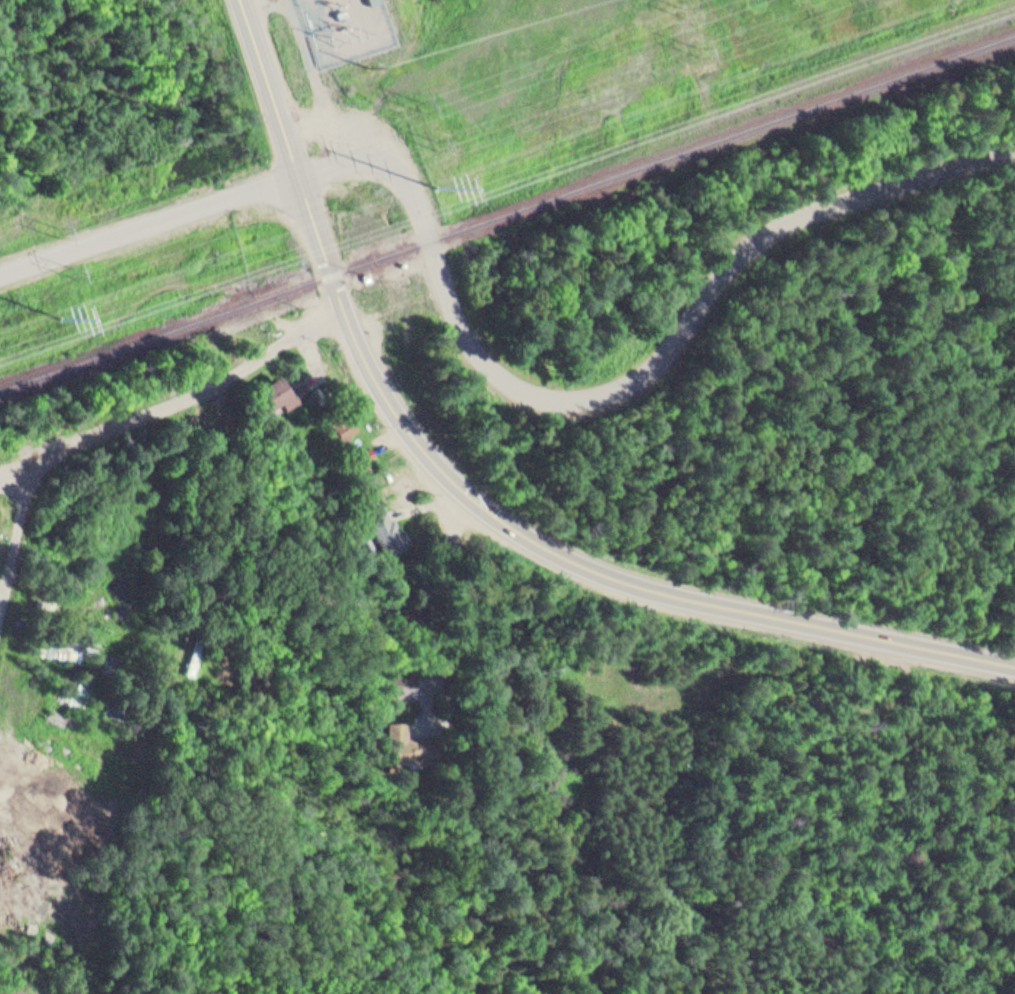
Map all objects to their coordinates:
power tower: (690, 14)
power substation: (348, 28)
power tower: (706, 48)
railway: (886, 60)
power tower: (423, 105)
road: (287, 136)
railway: (723, 140)
power tower: (432, 150)
power tower: (439, 188)
power tower: (62, 230)
road: (115, 235)
power tower: (73, 270)
railway: (214, 315)
power tower: (64, 318)
building: (281, 387)
road: (593, 394)
road: (135, 422)
building: (344, 425)
building: (364, 453)
building: (386, 527)
road: (605, 572)
building: (58, 649)
building: (193, 656)
road: (180, 659)
building: (397, 679)
building: (397, 747)
road: (1006, 914)

